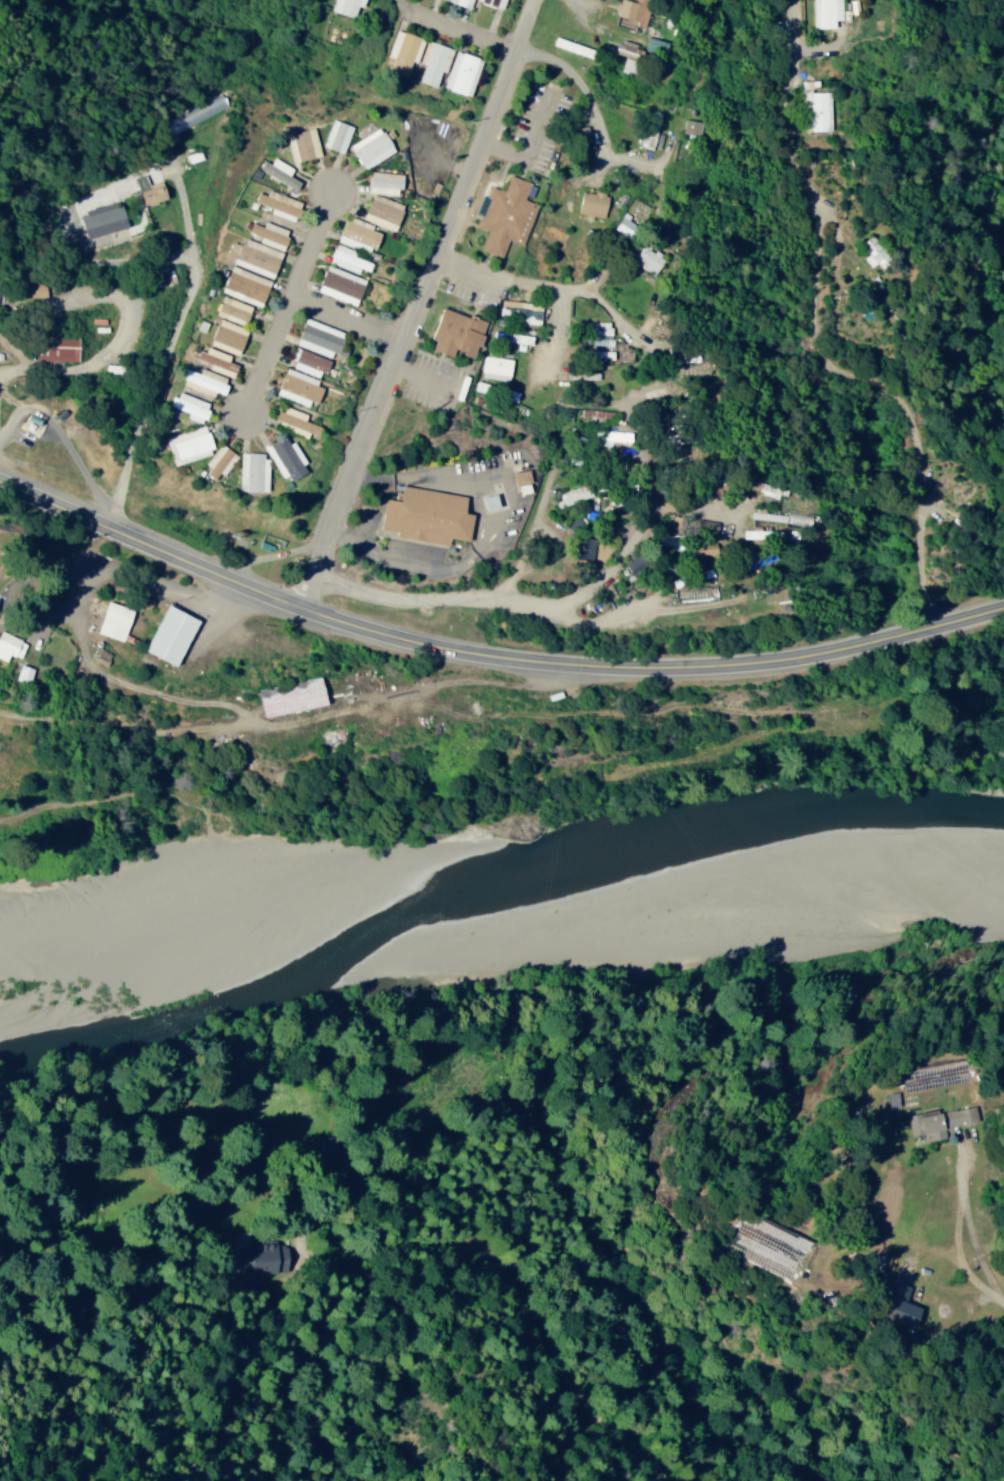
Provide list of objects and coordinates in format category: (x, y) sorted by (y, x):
building: (461, 2)
building: (492, 2)
building: (346, 6)
building: (823, 13)
building: (630, 14)
road: (581, 25)
road: (460, 37)
building: (654, 46)
building: (623, 48)
building: (403, 51)
building: (432, 62)
building: (460, 72)
building: (815, 111)
road: (595, 113)
building: (690, 127)
building: (649, 129)
building: (336, 135)
building: (579, 135)
building: (301, 143)
building: (370, 147)
building: (277, 171)
building: (383, 182)
building: (276, 203)
building: (590, 203)
building: (380, 213)
building: (504, 215)
building: (100, 219)
building: (267, 233)
building: (355, 235)
building: (869, 252)
building: (252, 255)
building: (345, 258)
building: (645, 259)
road: (601, 272)
building: (243, 284)
building: (338, 284)
building: (30, 288)
road: (420, 307)
building: (230, 308)
road: (288, 310)
building: (518, 310)
road: (348, 325)
building: (453, 332)
building: (225, 335)
building: (317, 336)
road: (552, 343)
building: (54, 346)
building: (595, 347)
building: (215, 360)
building: (307, 362)
building: (494, 367)
road: (164, 368)
building: (580, 372)
building: (202, 381)
building: (296, 386)
building: (189, 406)
road: (910, 411)
building: (294, 419)
building: (187, 445)
building: (285, 458)
building: (217, 462)
building: (251, 471)
building: (519, 476)
building: (423, 514)
building: (779, 516)
building: (705, 525)
building: (753, 533)
building: (664, 541)
building: (582, 548)
road: (526, 549)
road: (81, 568)
building: (702, 573)
road: (541, 602)
road: (648, 610)
building: (112, 620)
building: (168, 634)
building: (9, 645)
road: (490, 659)
building: (20, 673)
building: (290, 696)
road: (188, 734)
road: (305, 752)
river: (579, 859)
river: (166, 967)
river: (143, 994)
river: (63, 1037)
building: (939, 1120)
road: (386, 1252)
building: (267, 1257)
building: (895, 1305)

